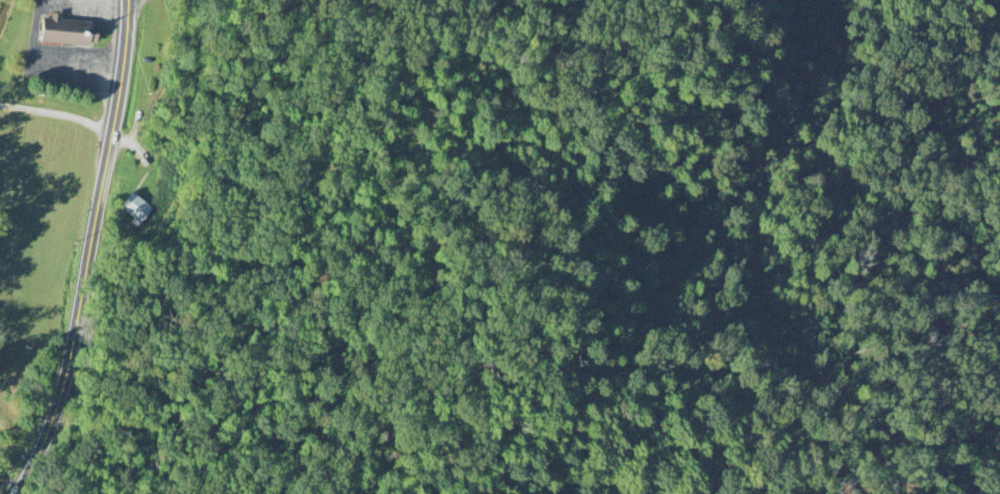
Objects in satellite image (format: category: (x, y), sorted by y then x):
road: (102, 3)
building: (68, 33)
road: (50, 59)
road: (57, 115)
building: (135, 210)
road: (88, 250)
road: (10, 464)

